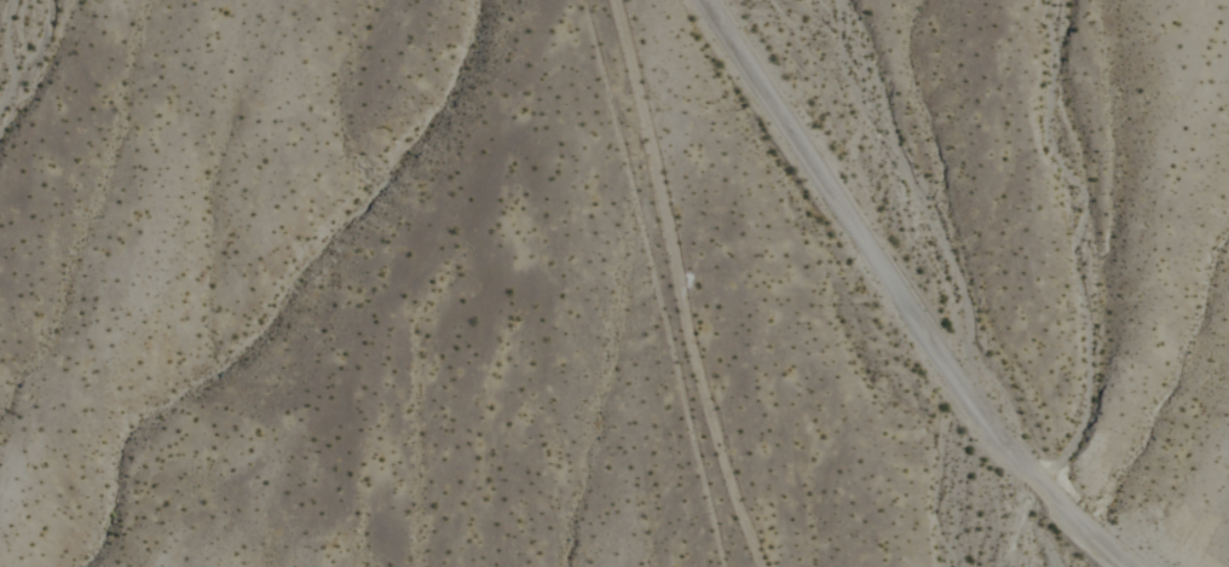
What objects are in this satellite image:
road: (911, 299)

